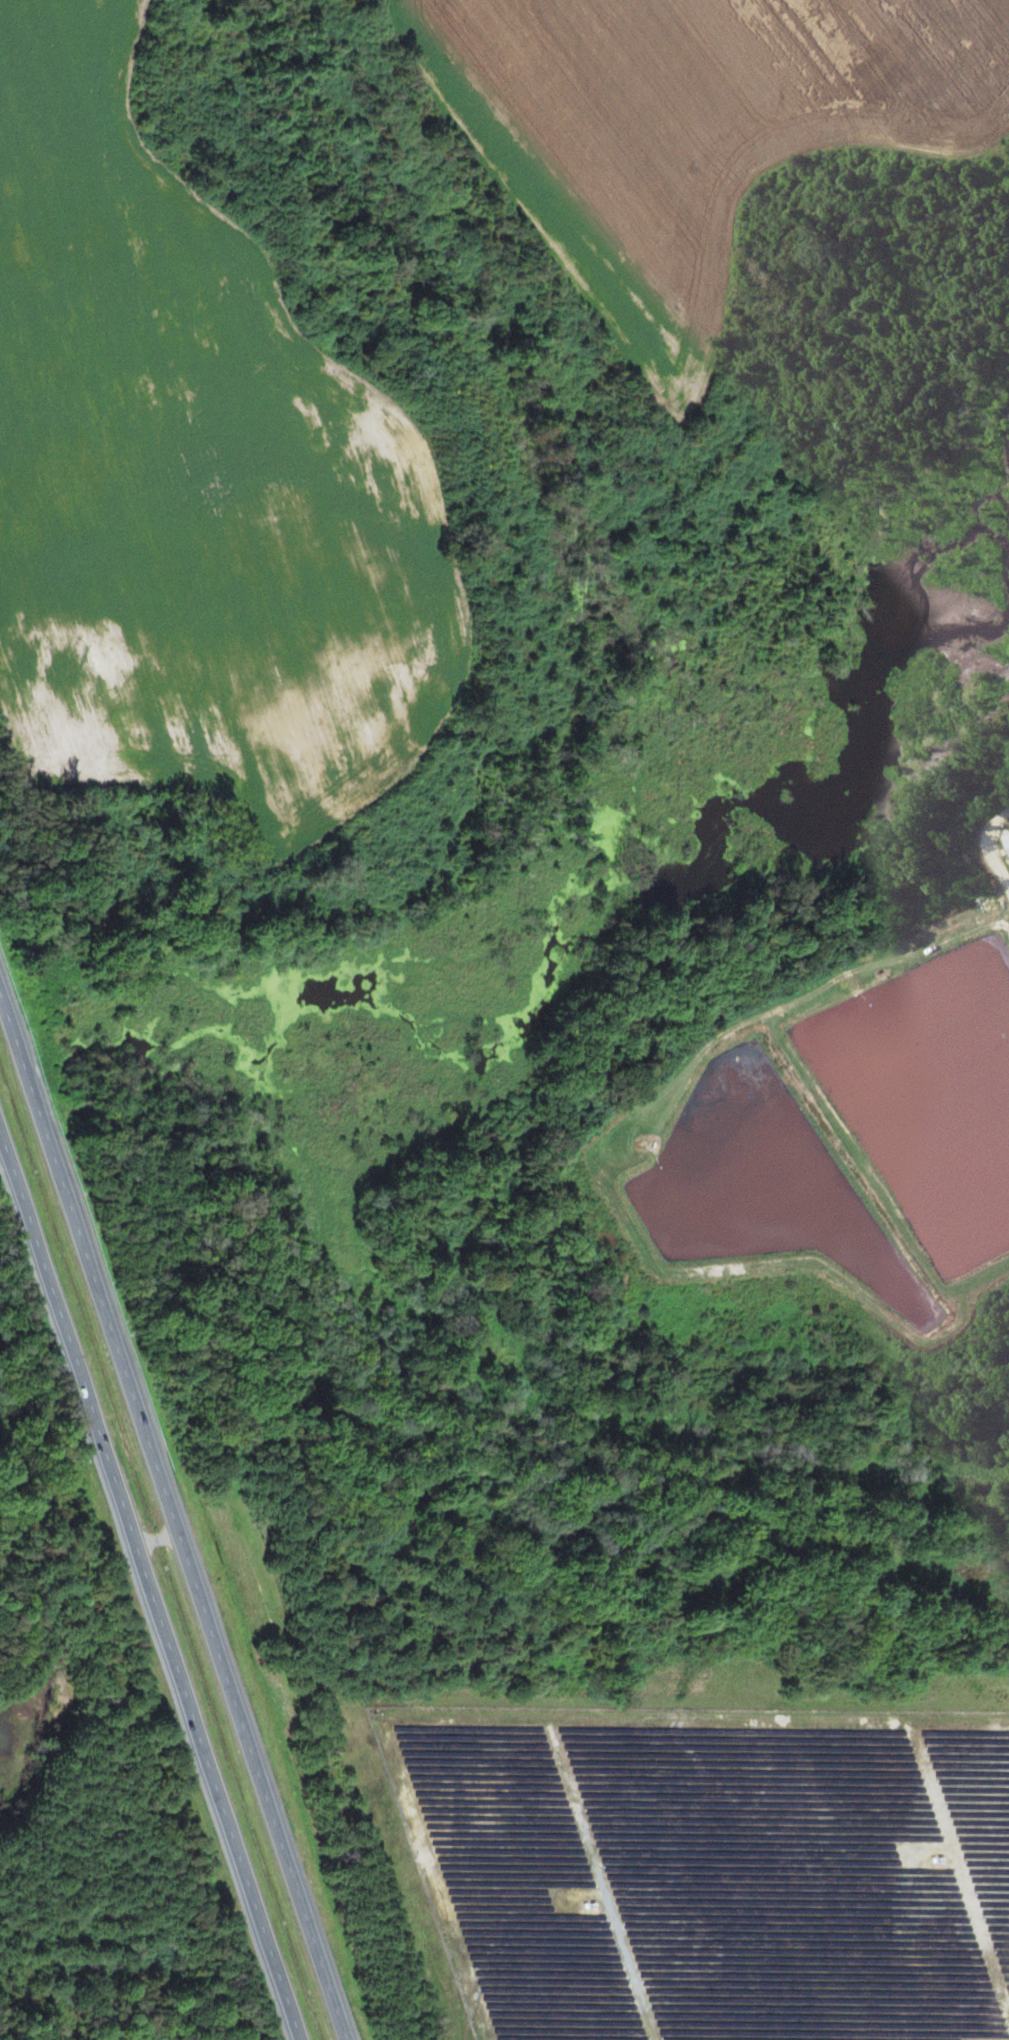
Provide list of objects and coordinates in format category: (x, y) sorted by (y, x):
building: (1007, 836)
road: (174, 1516)
road: (150, 1582)
solar farm: (713, 1869)

